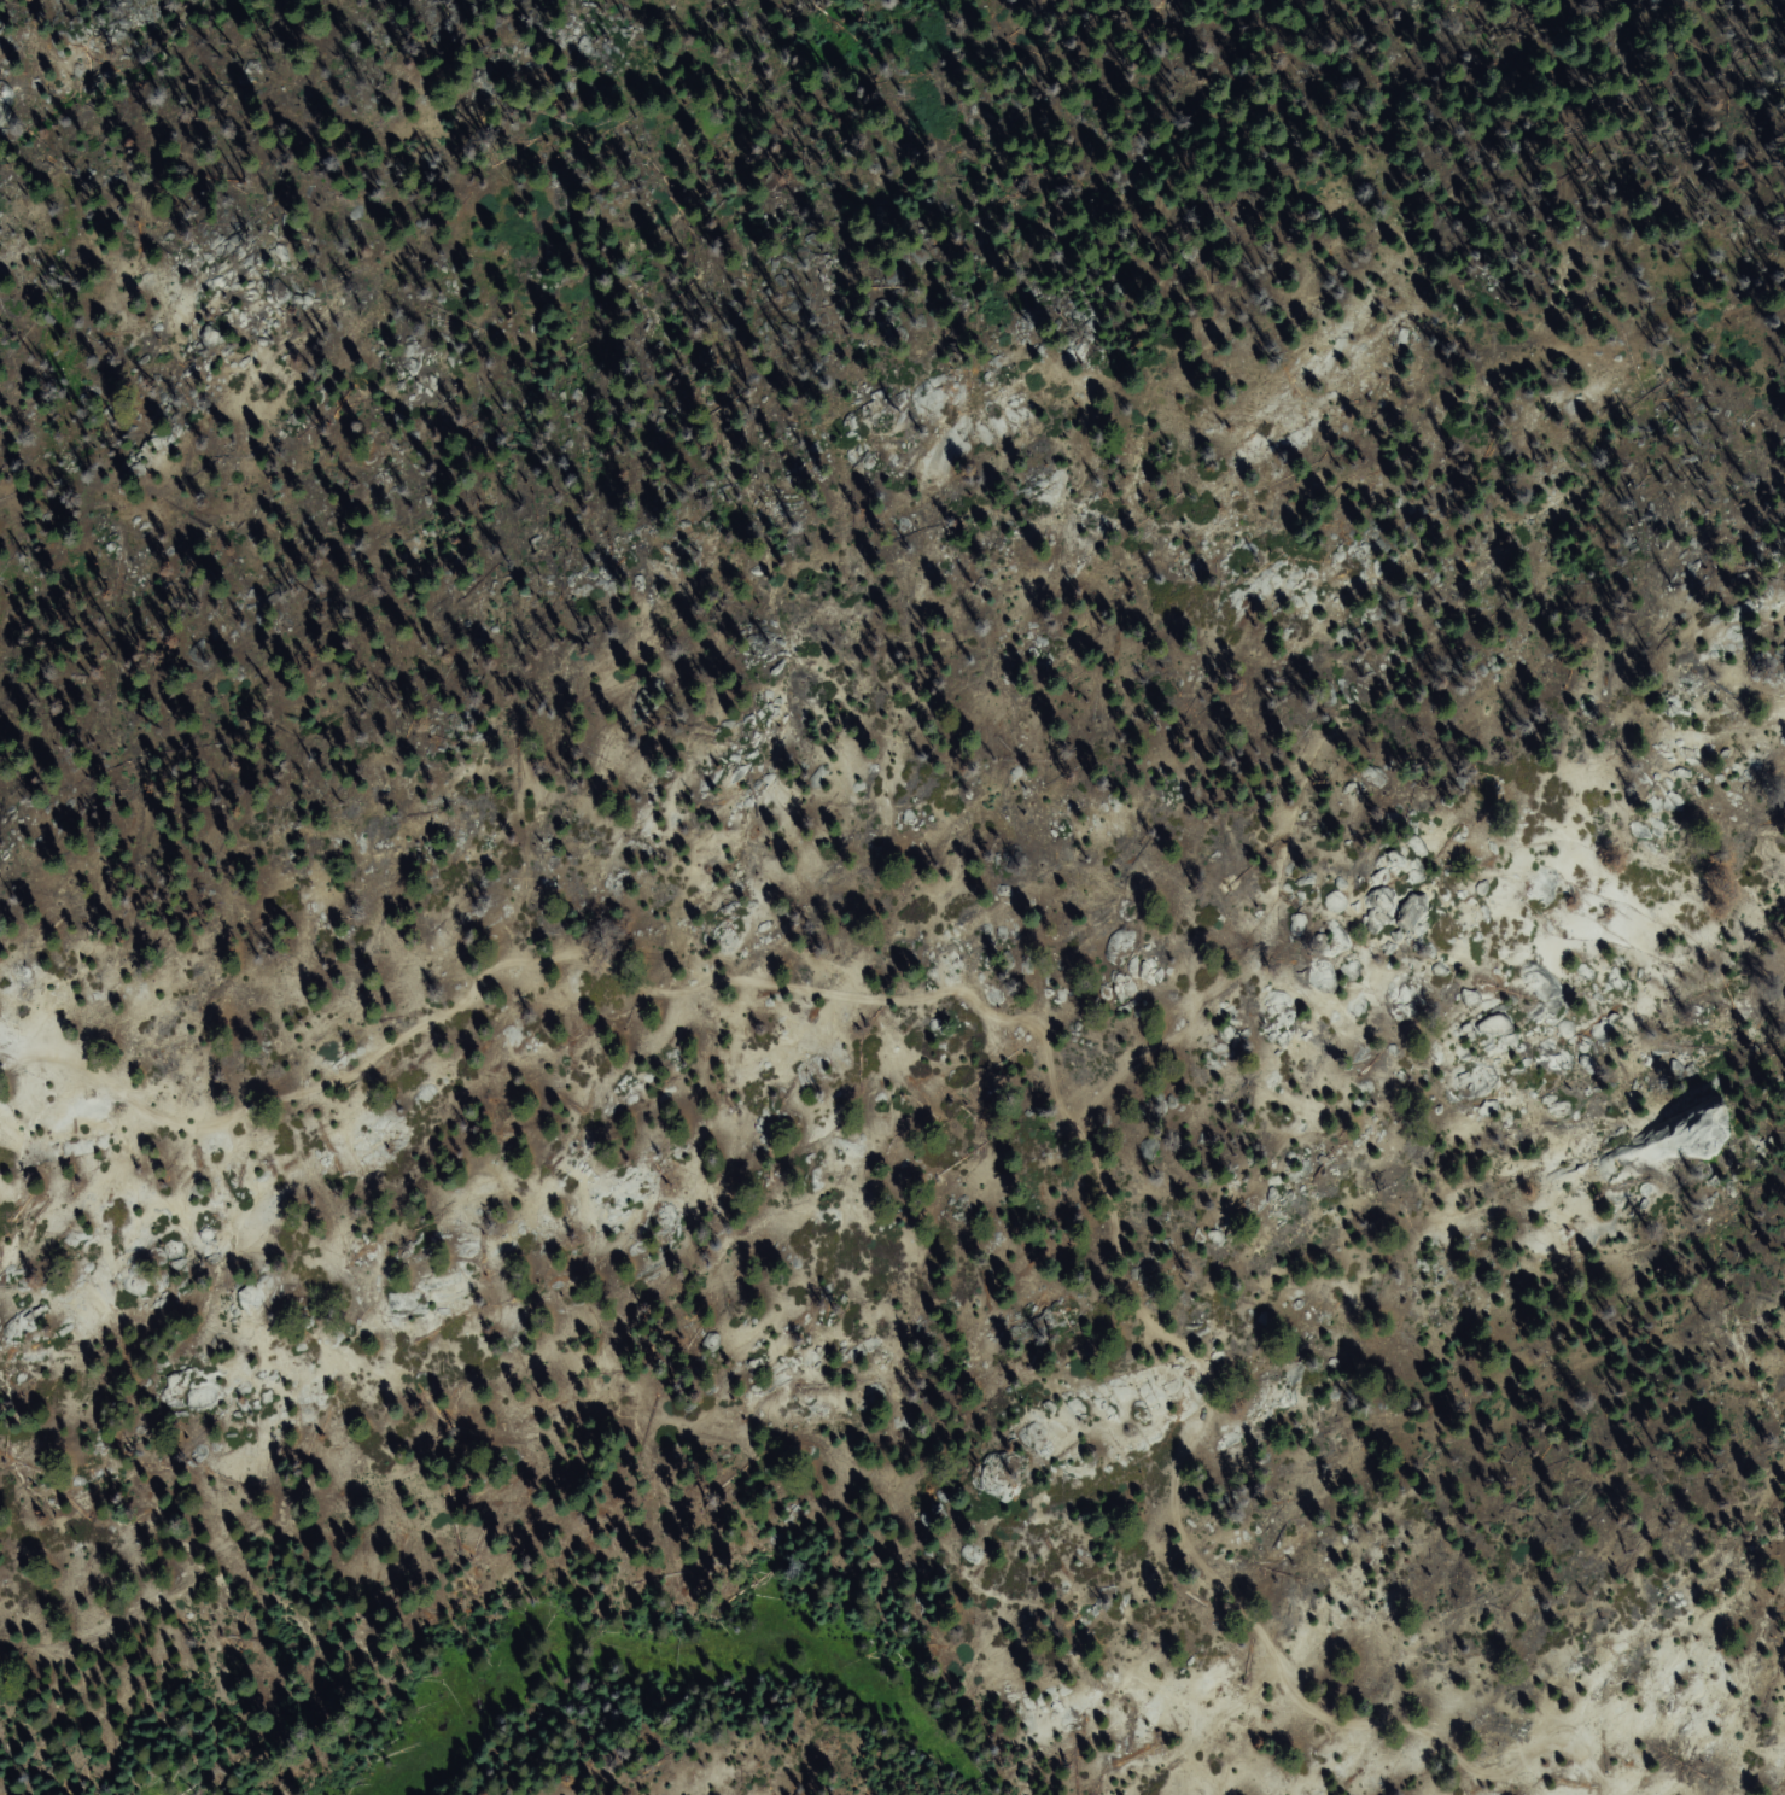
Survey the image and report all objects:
building: (830, 58)
building: (285, 92)
building: (525, 351)
building: (583, 456)
road: (1037, 1023)

